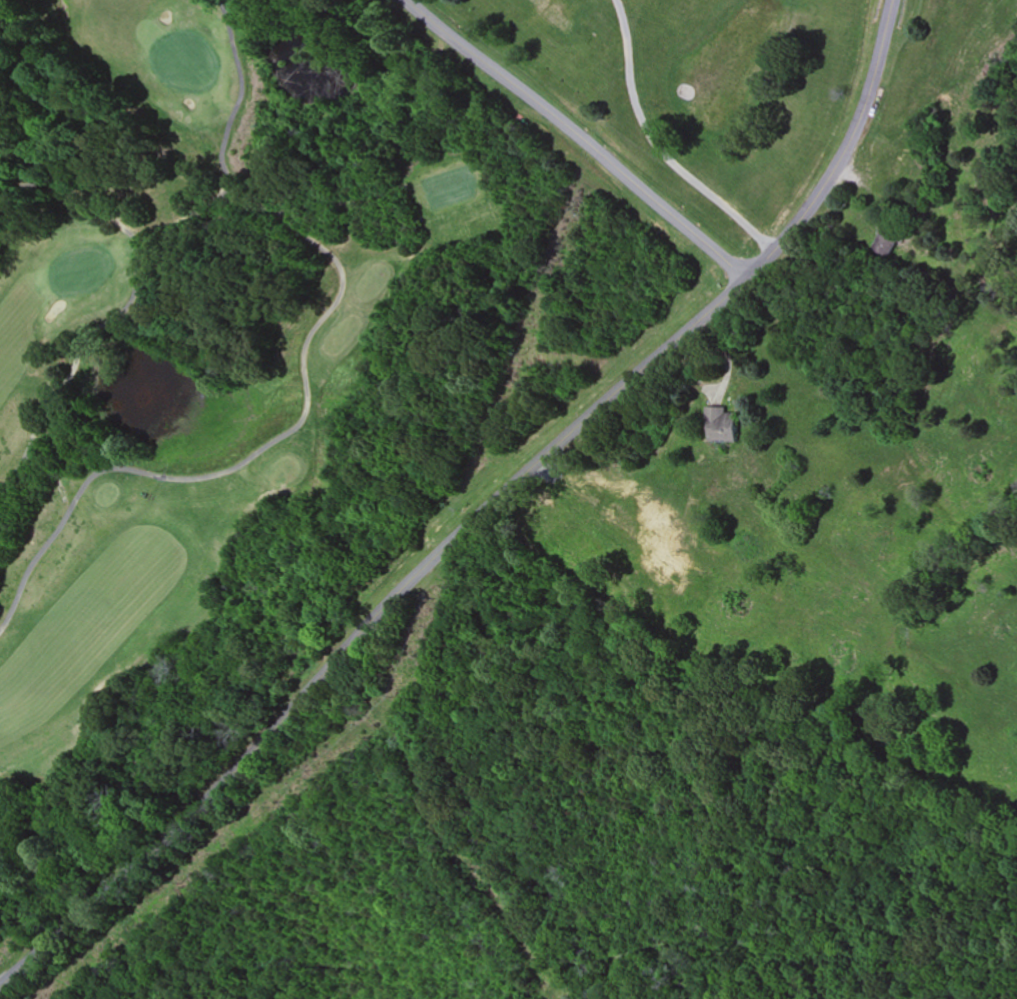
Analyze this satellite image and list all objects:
road: (578, 136)
building: (887, 241)
park: (78, 270)
park: (225, 368)
building: (722, 426)
road: (481, 512)
park: (372, 583)

